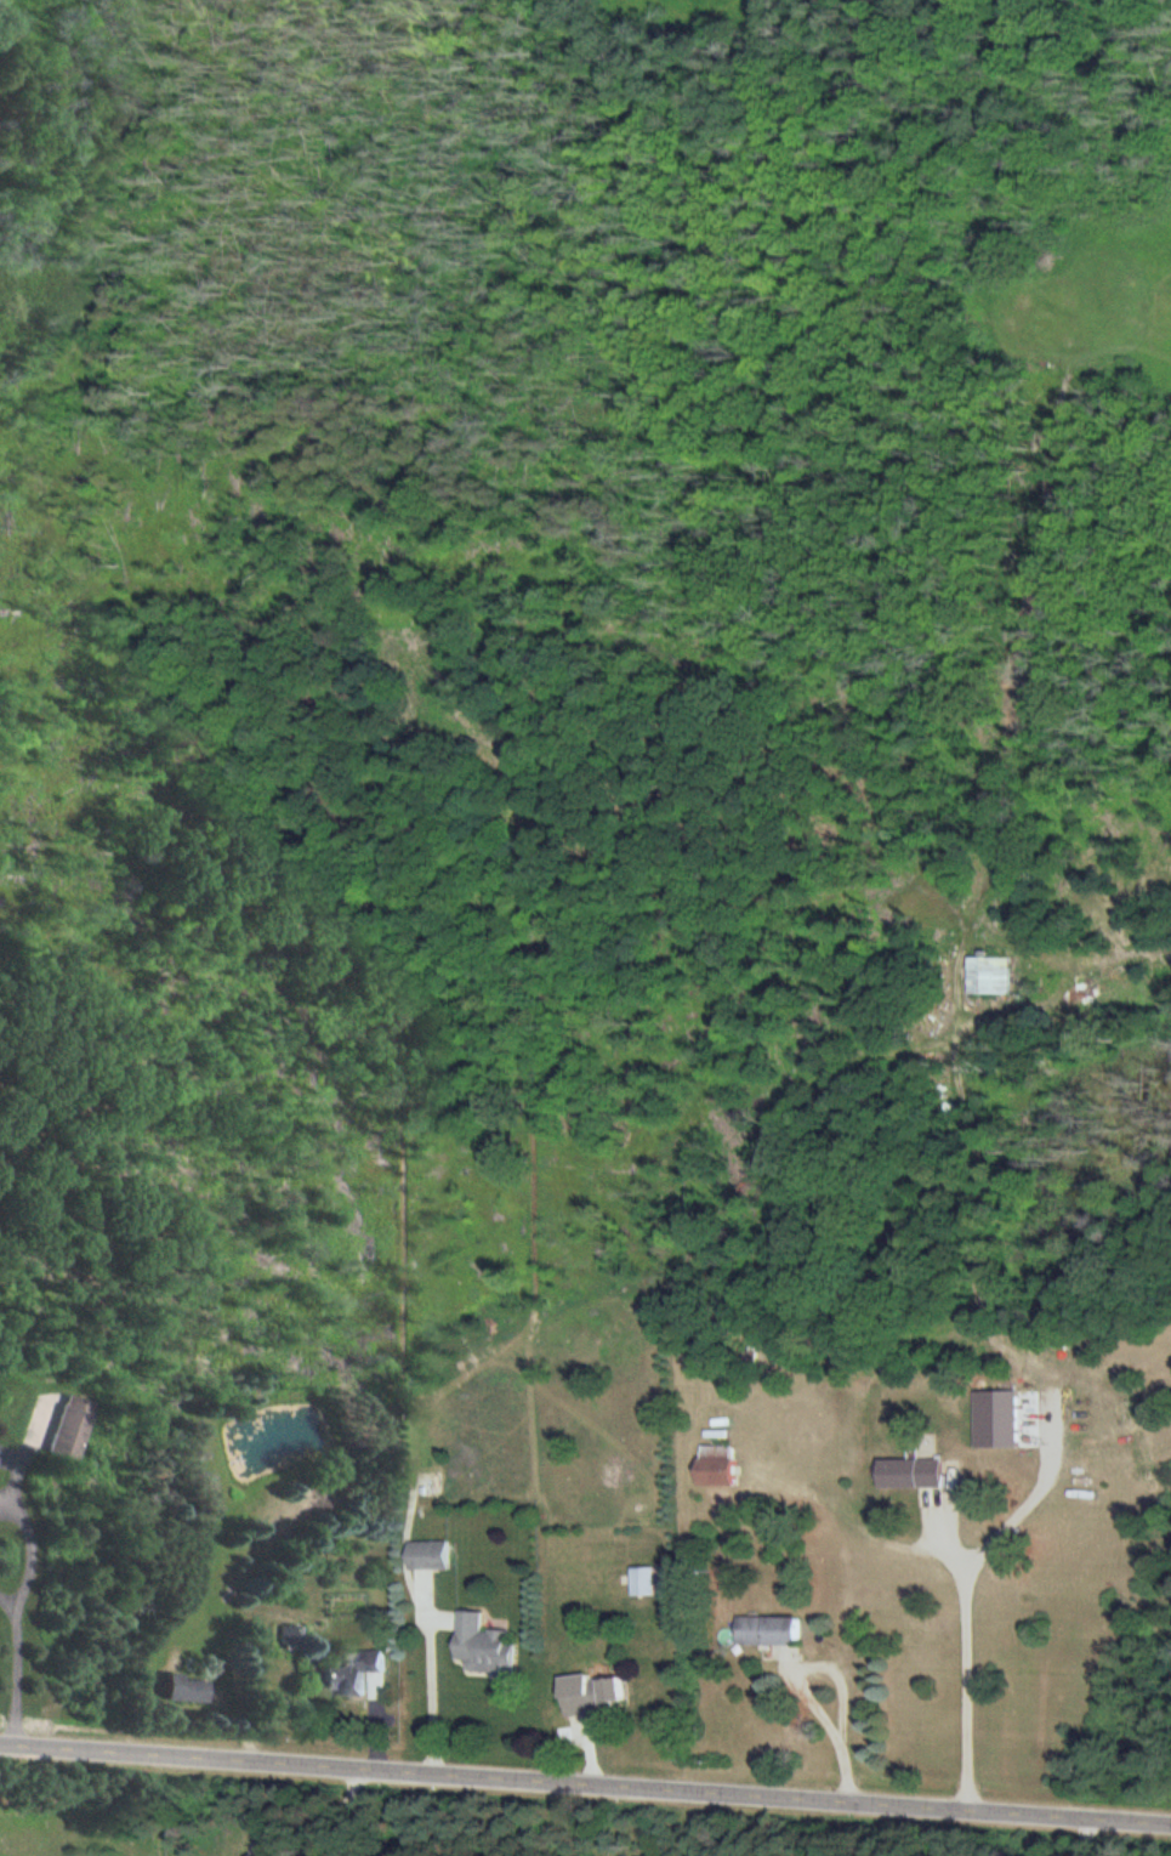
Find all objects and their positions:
building: (988, 976)
building: (67, 1428)
building: (715, 1465)
building: (909, 1475)
road: (32, 1548)
building: (427, 1556)
building: (642, 1582)
road: (7, 1597)
building: (767, 1631)
building: (482, 1647)
road: (978, 1661)
road: (17, 1674)
building: (351, 1675)
building: (182, 1690)
building: (590, 1696)
road: (585, 1782)

